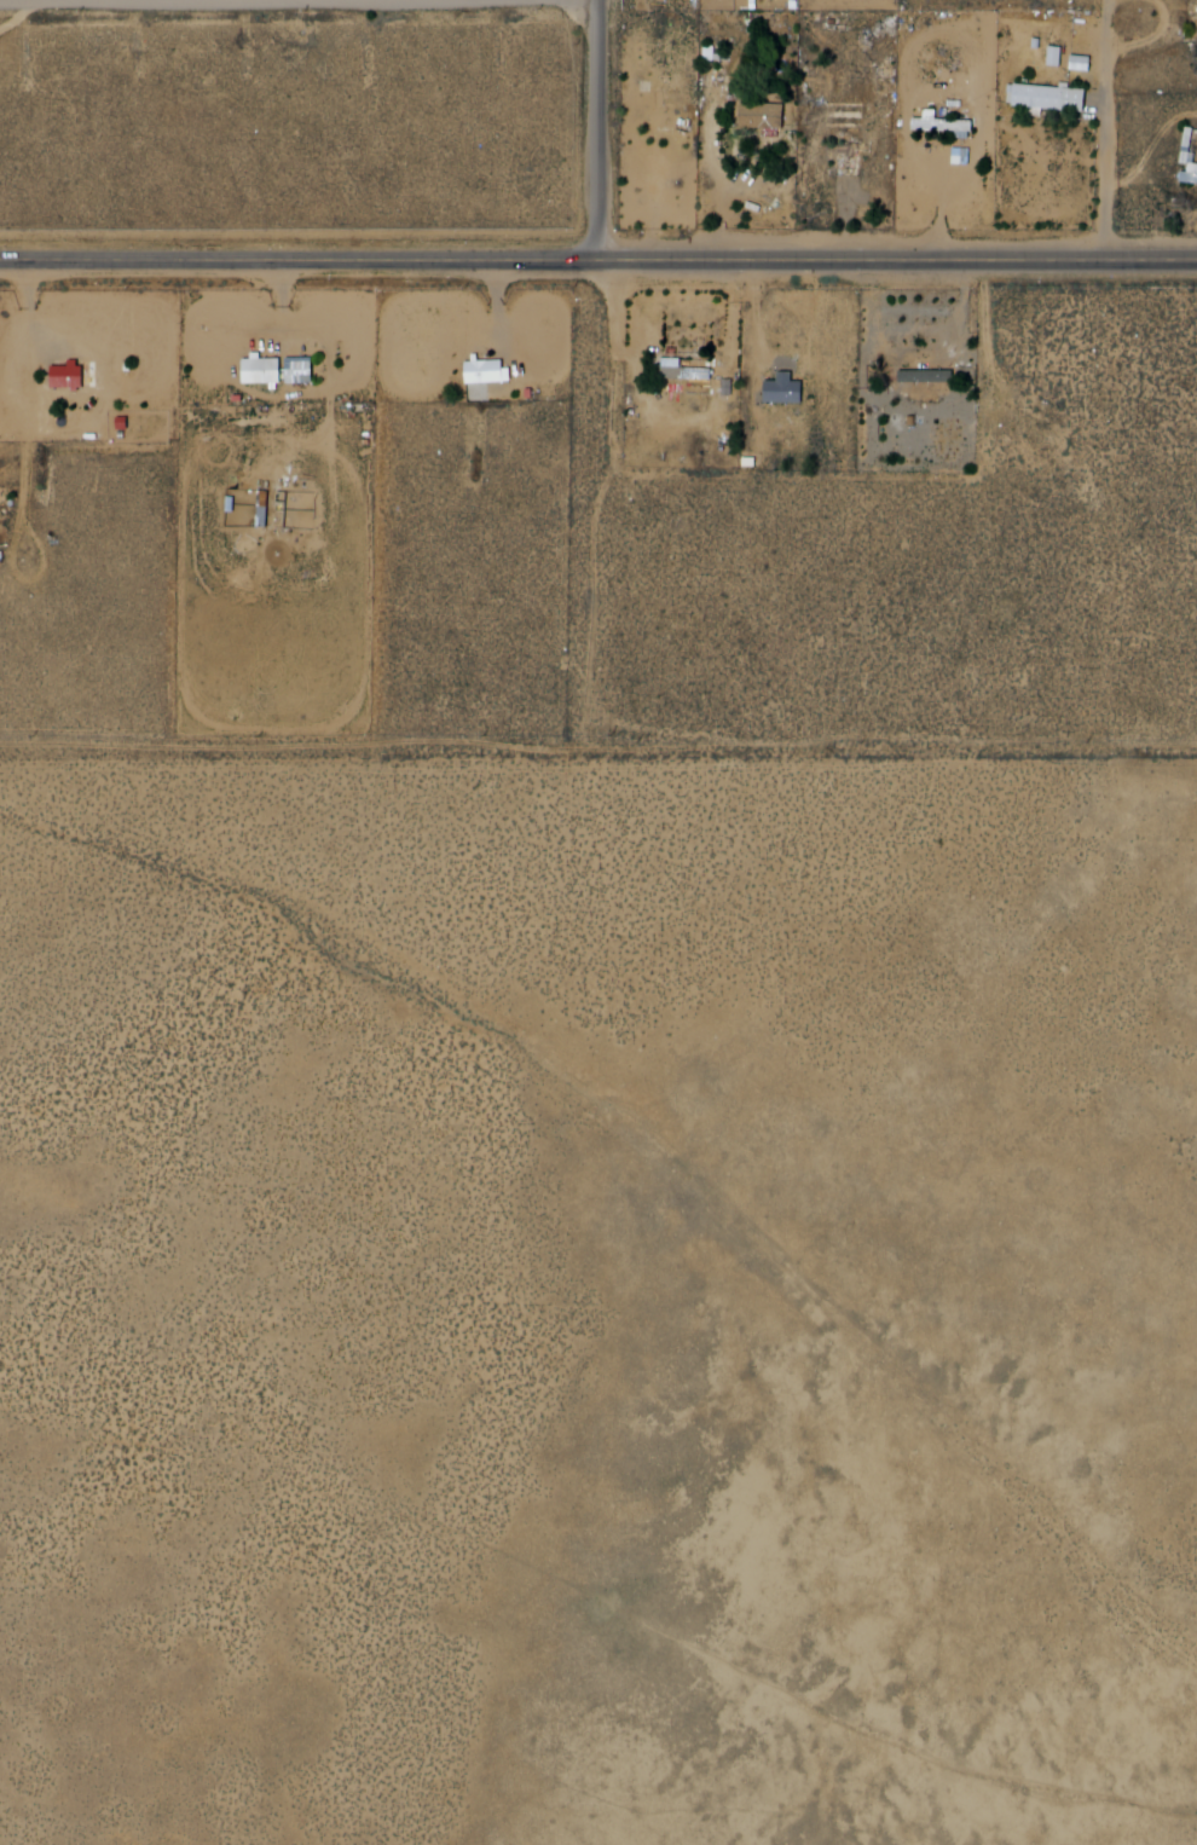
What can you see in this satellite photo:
building: (1195, 21)
building: (1052, 98)
building: (770, 105)
building: (849, 116)
building: (765, 118)
building: (947, 125)
road: (608, 129)
road: (1103, 131)
building: (1192, 145)
building: (845, 167)
building: (1191, 174)
road: (598, 261)
building: (267, 369)
building: (488, 370)
building: (687, 371)
building: (70, 375)
building: (924, 380)
building: (787, 392)

